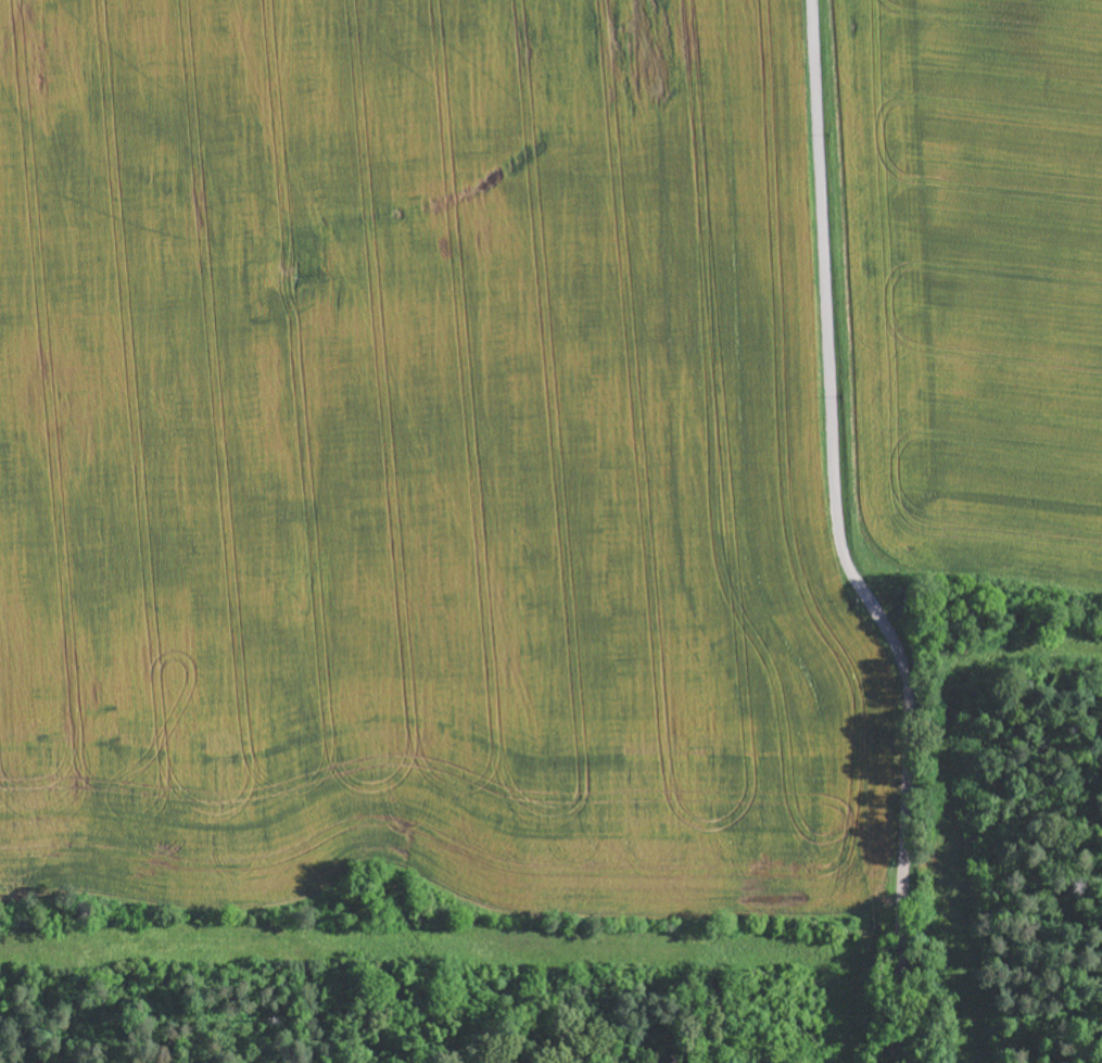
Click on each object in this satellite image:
road: (835, 438)
road: (902, 962)

